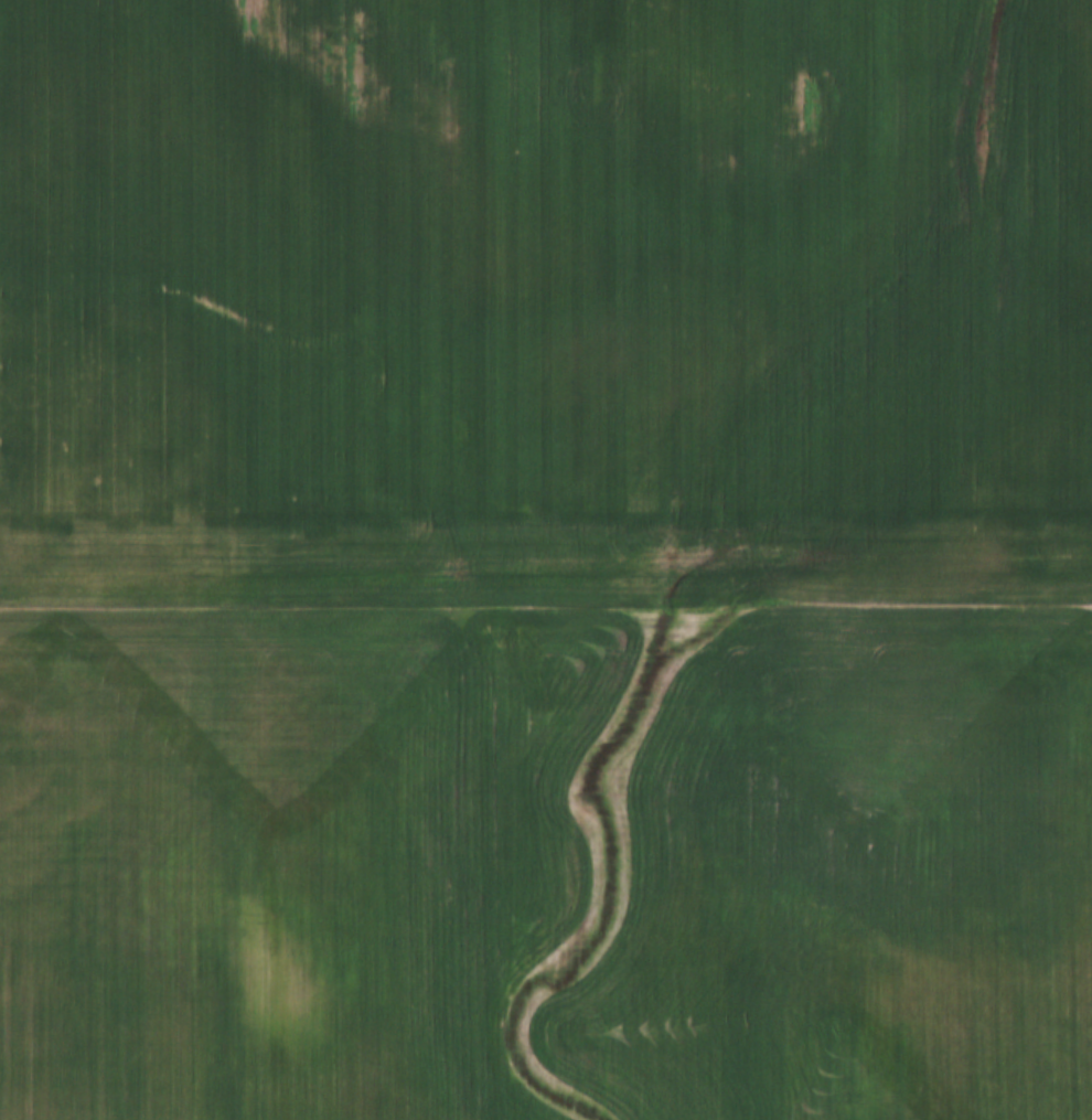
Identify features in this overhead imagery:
road: (546, 588)

